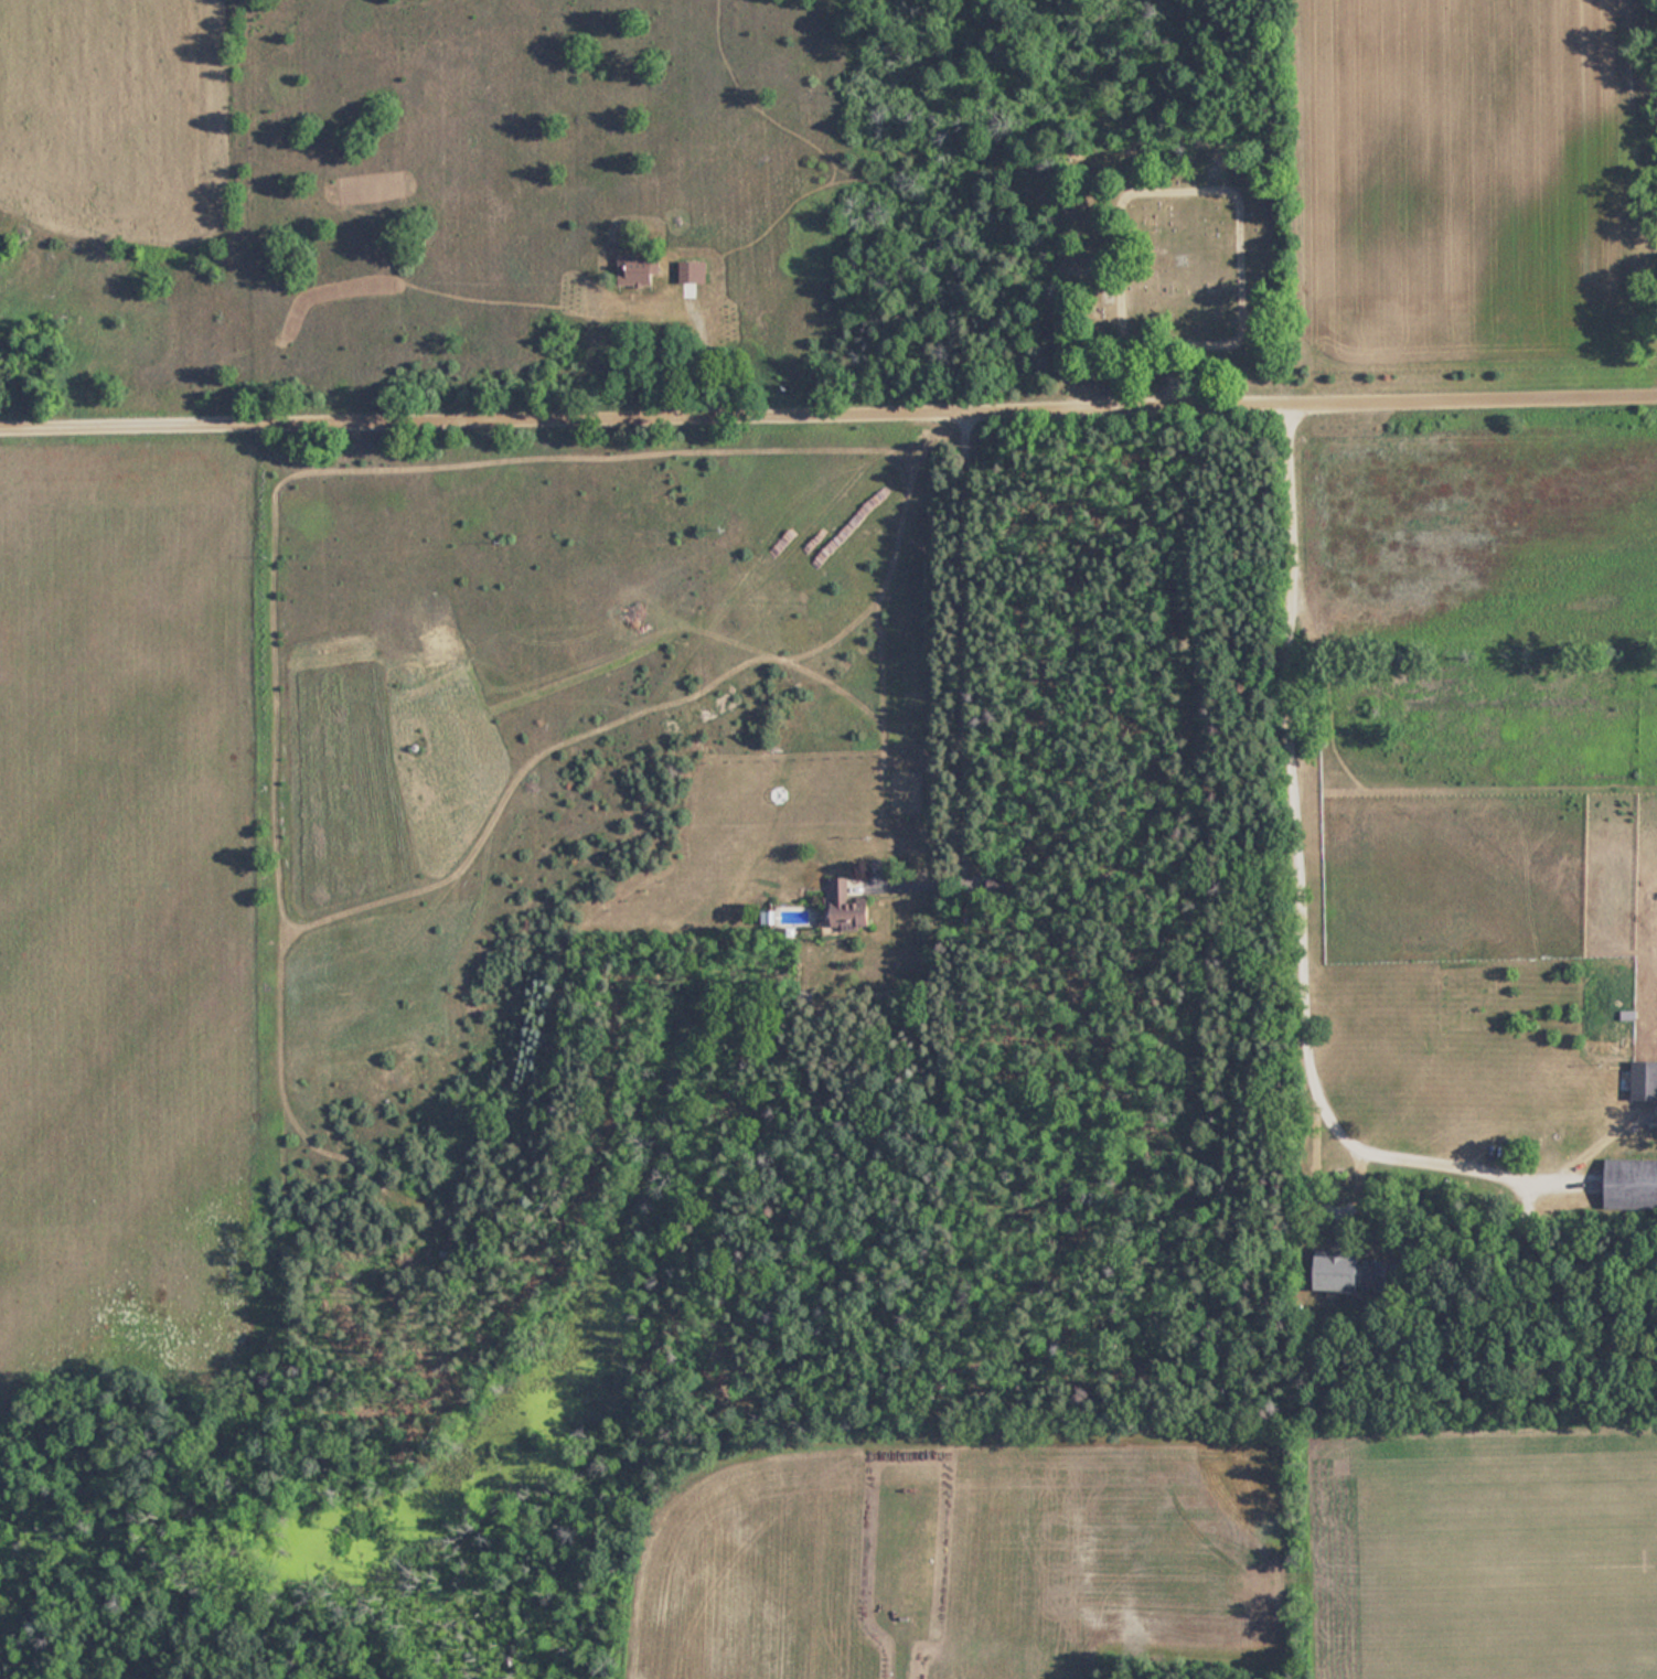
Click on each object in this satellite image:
park: (1165, 265)
road: (827, 416)
road: (1295, 874)
building: (845, 908)
building: (1645, 1080)
building: (1631, 1183)
building: (1354, 1274)

